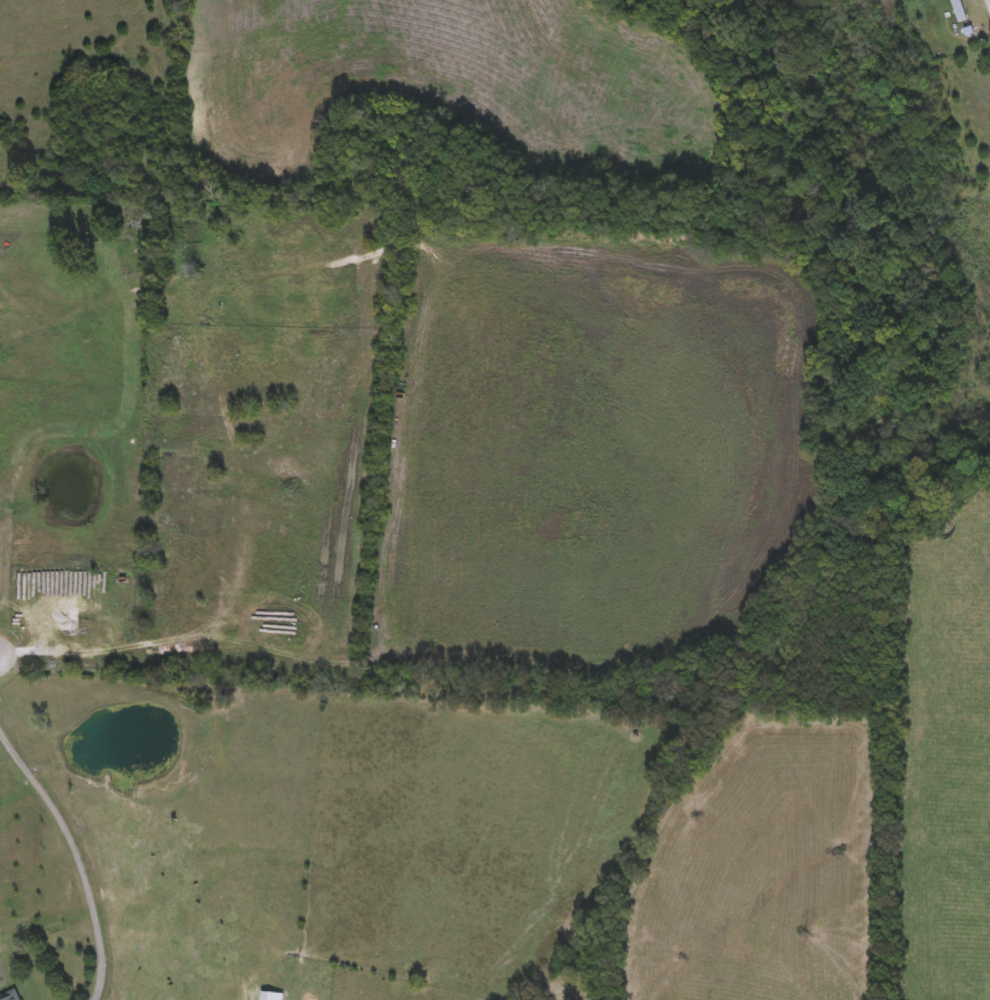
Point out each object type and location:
road: (989, 0)
building: (953, 8)
road: (78, 853)

